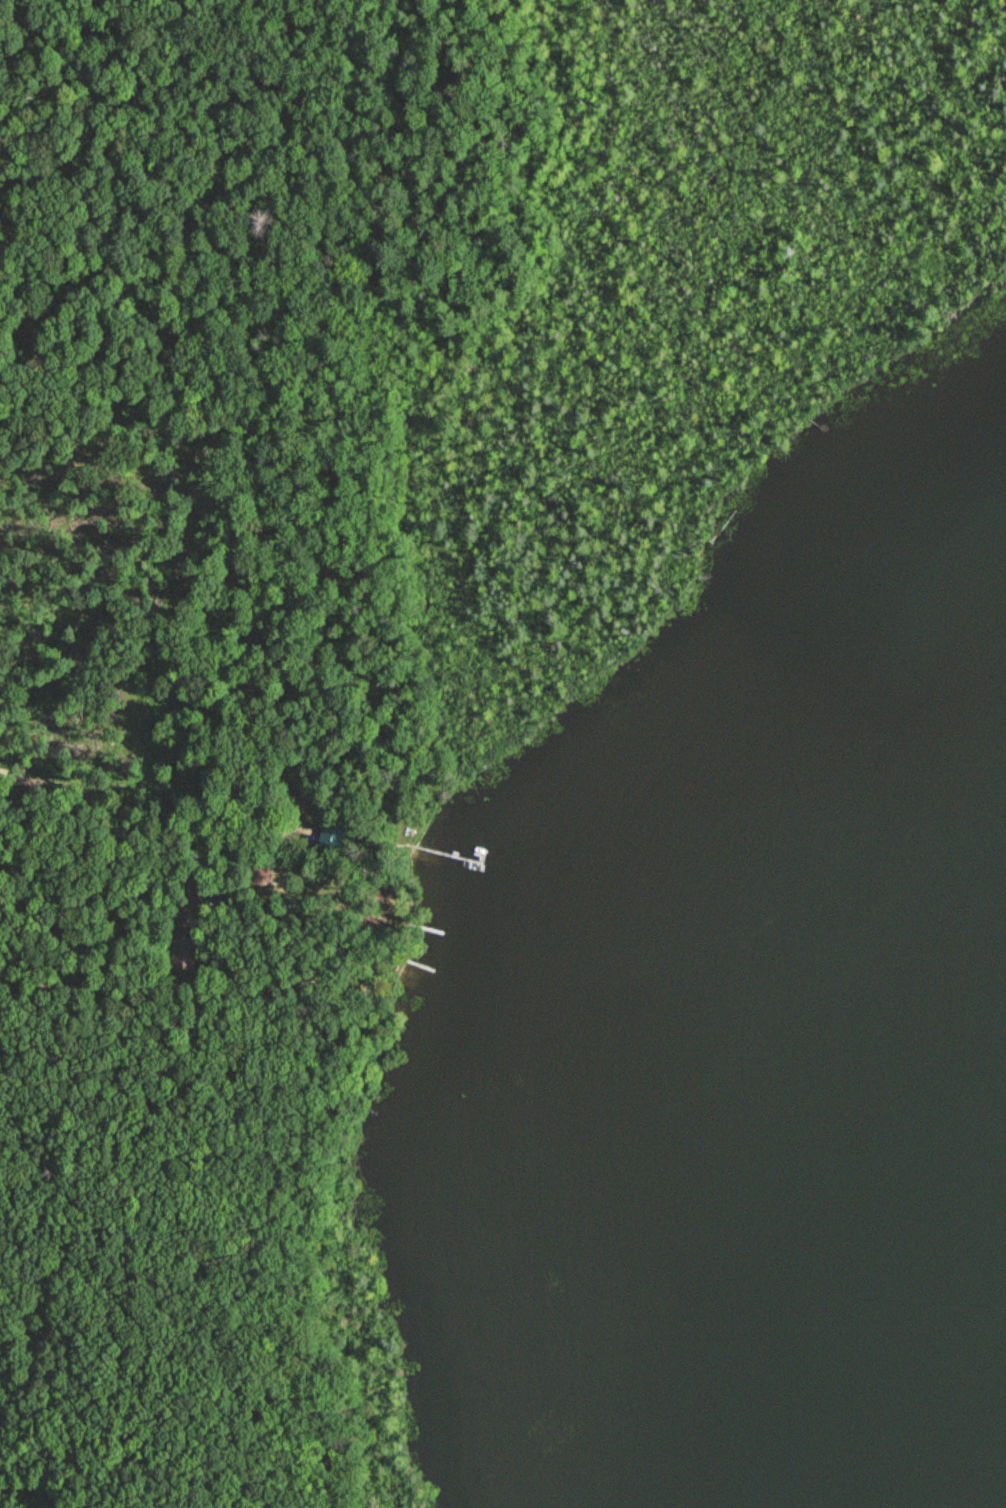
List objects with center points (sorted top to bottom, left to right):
road: (124, 788)
road: (1, 801)
road: (69, 802)
building: (260, 874)
road: (137, 995)
road: (150, 1065)

